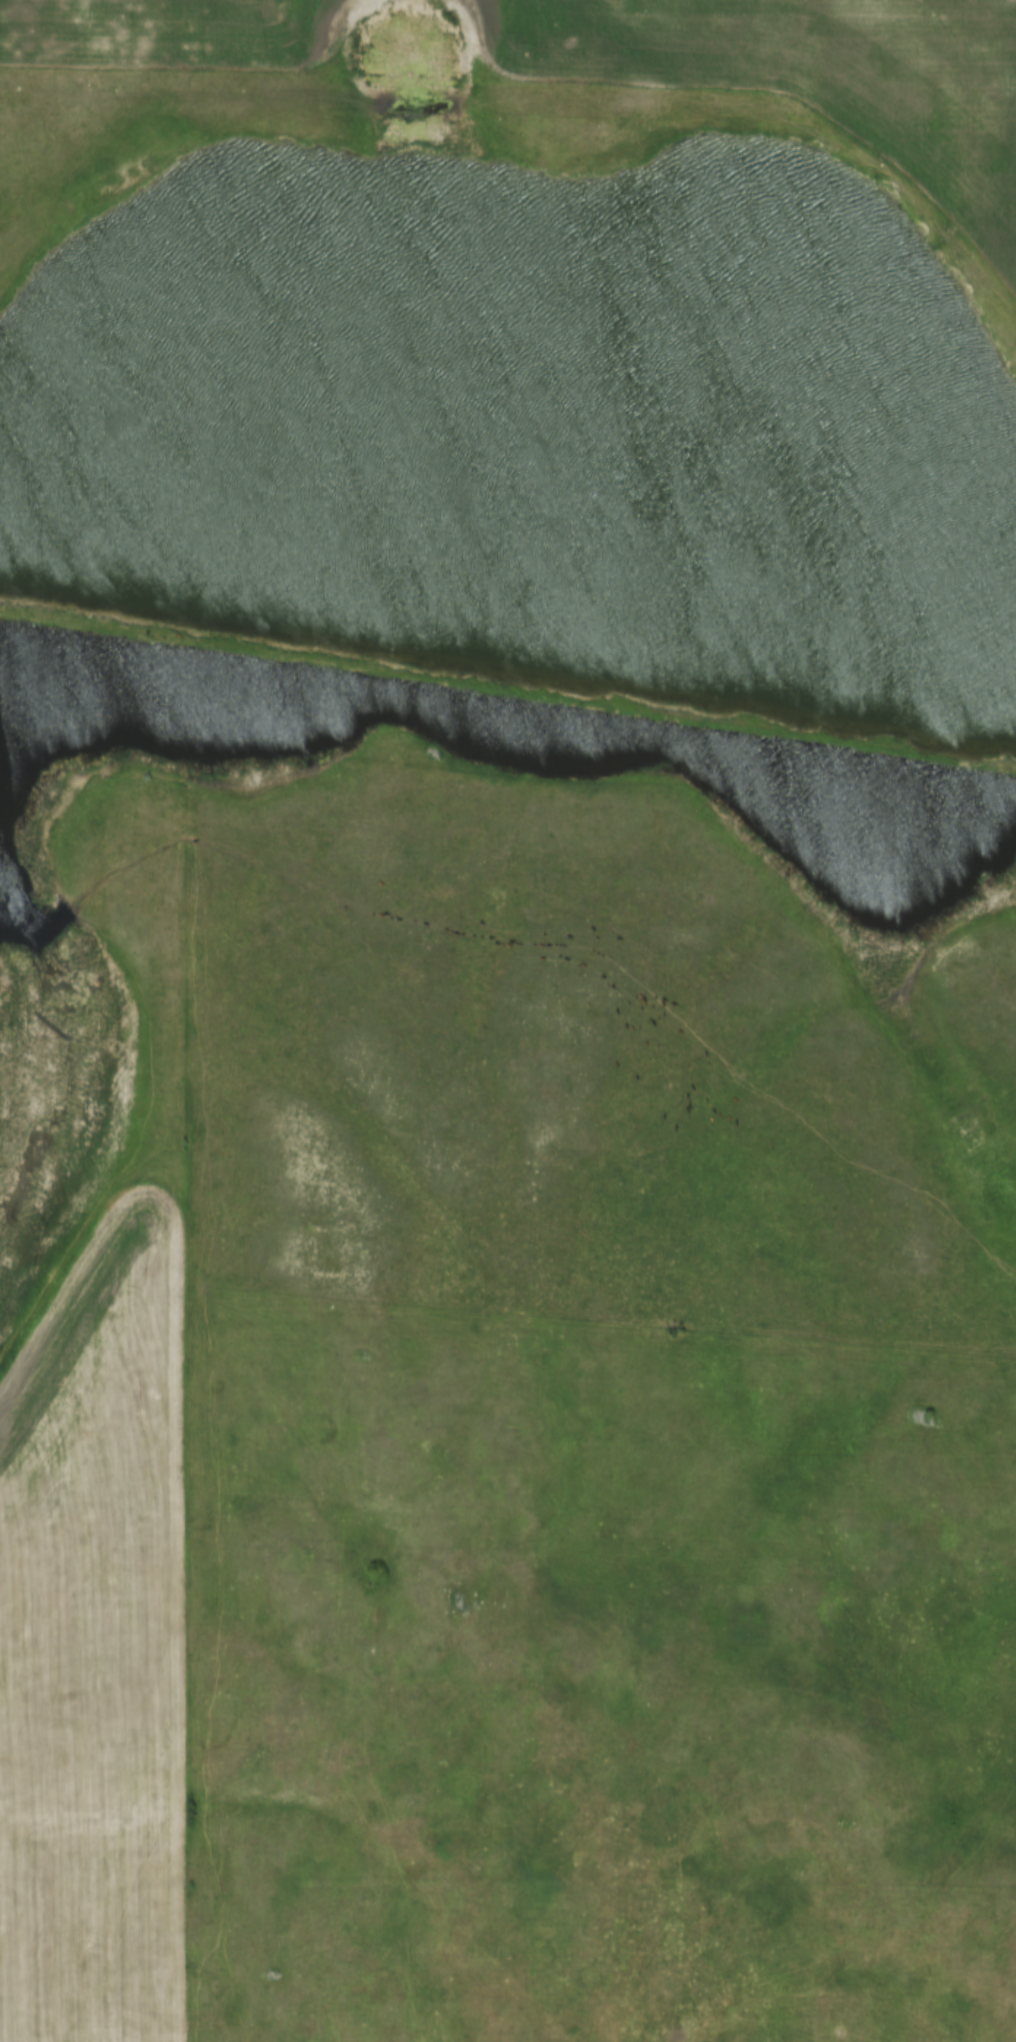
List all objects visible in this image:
road: (508, 770)

